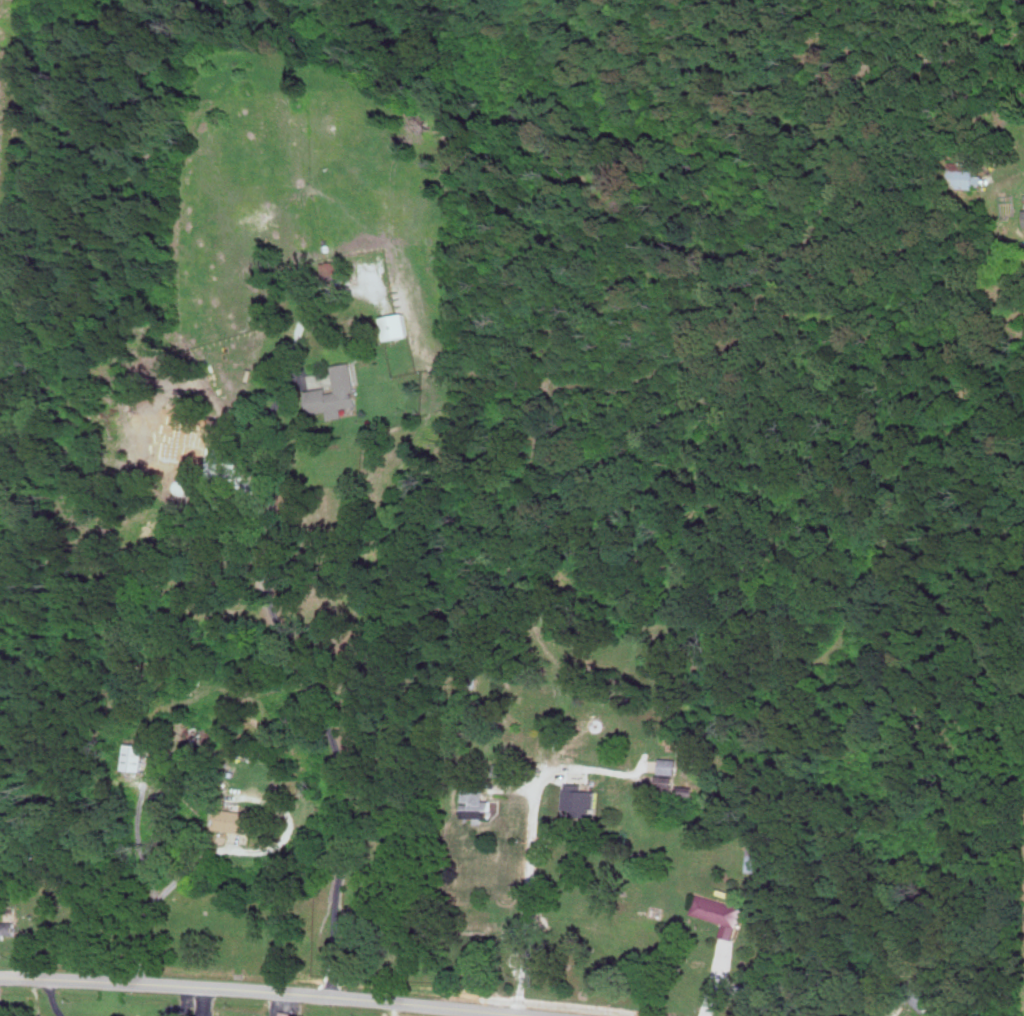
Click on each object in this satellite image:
road: (12, 97)
building: (964, 175)
road: (1000, 176)
building: (394, 325)
building: (334, 391)
road: (357, 690)
building: (133, 756)
building: (669, 765)
building: (666, 780)
building: (581, 799)
building: (476, 802)
building: (235, 819)
road: (95, 881)
road: (528, 907)
building: (718, 913)
building: (7, 928)
road: (715, 971)
road: (276, 990)
building: (919, 993)
road: (895, 1011)
building: (283, 1013)

